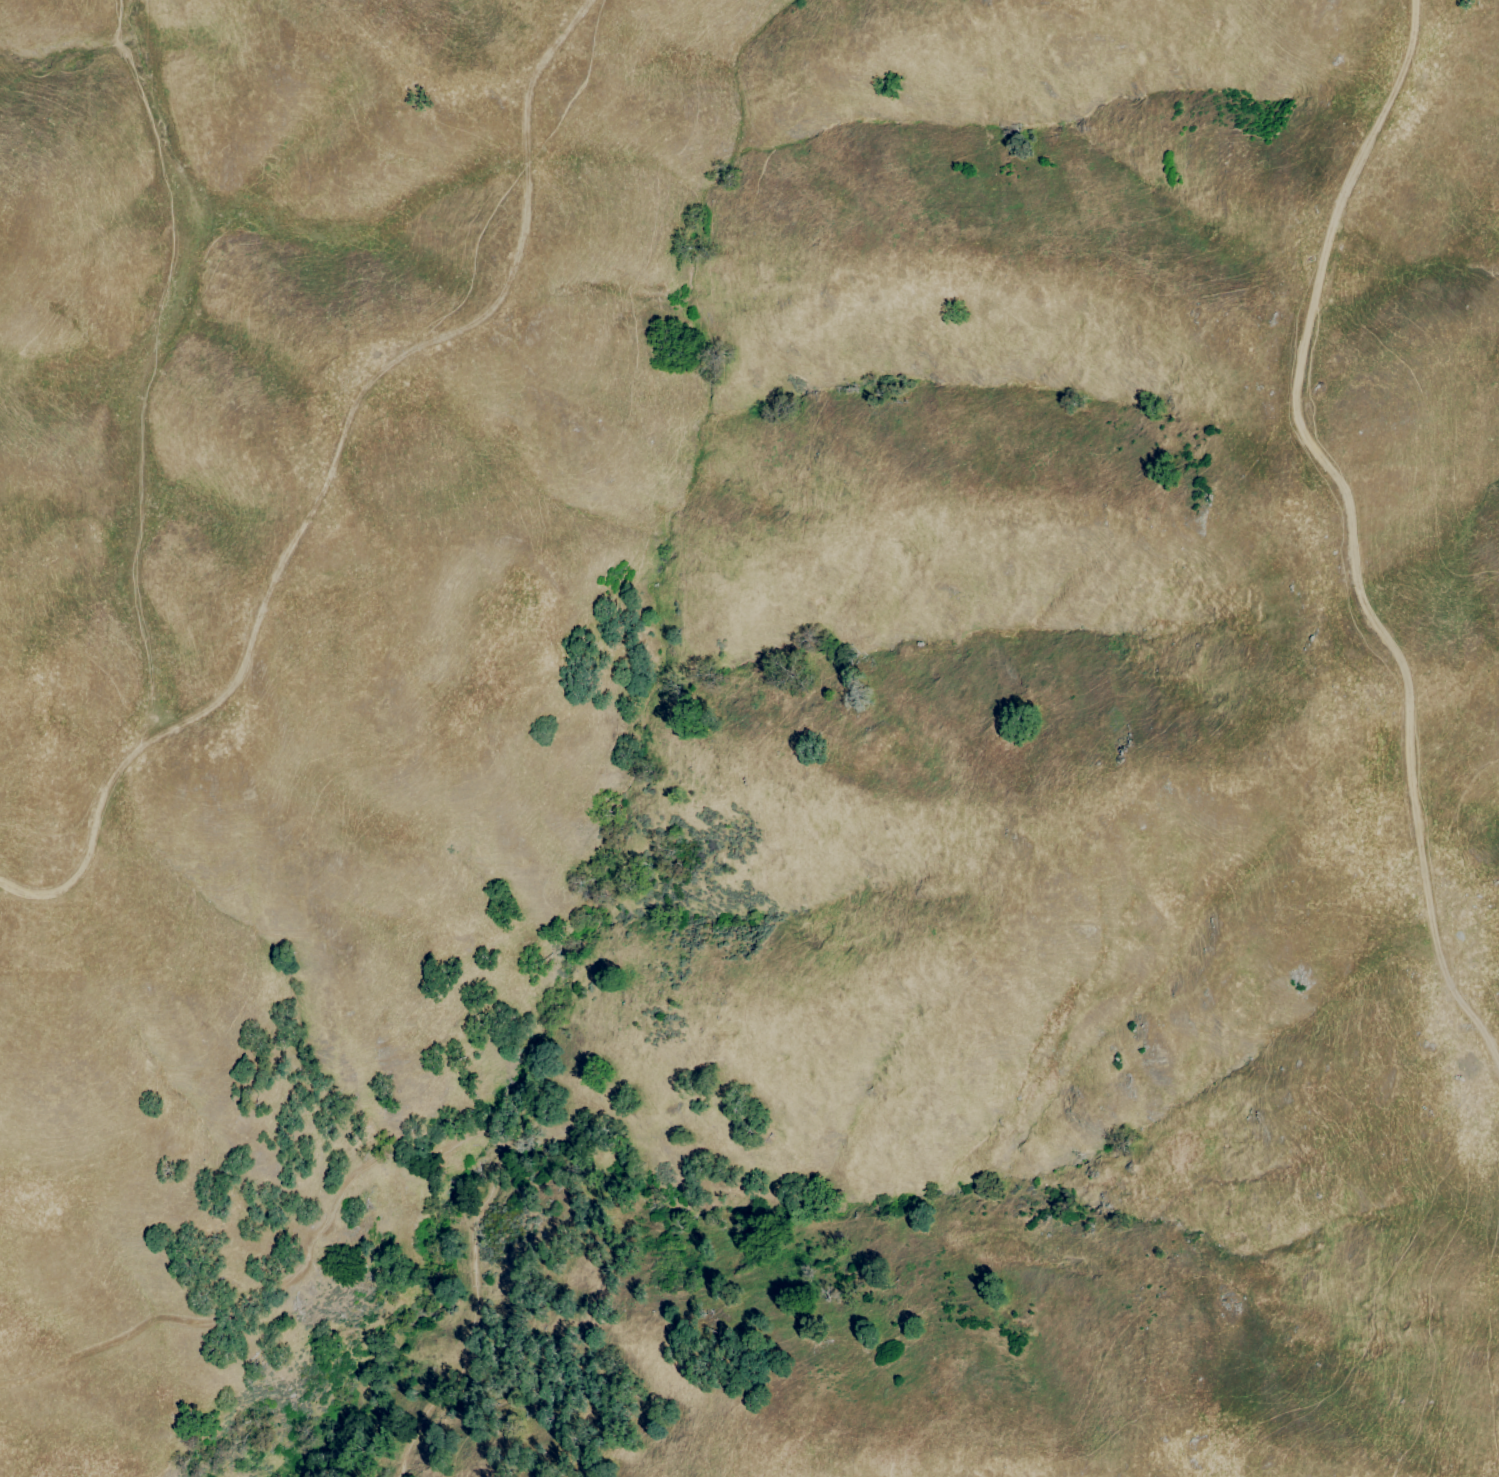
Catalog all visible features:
road: (328, 471)
road: (1344, 536)

